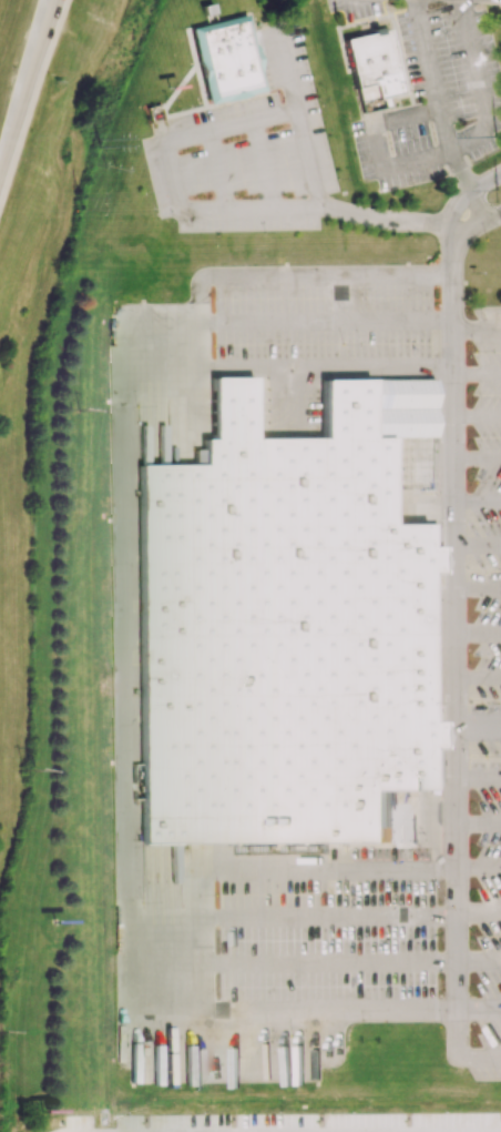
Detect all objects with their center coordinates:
building: (225, 58)
road: (286, 64)
building: (370, 64)
road: (480, 88)
road: (28, 90)
parking lot: (432, 91)
road: (441, 115)
power tower: (500, 135)
power tower: (99, 139)
road: (378, 144)
parking lot: (248, 151)
road: (264, 161)
road: (219, 169)
power tower: (111, 170)
road: (171, 193)
road: (464, 195)
power tower: (76, 203)
road: (479, 225)
road: (328, 322)
road: (202, 324)
road: (478, 329)
road: (142, 342)
road: (477, 373)
building: (400, 408)
power tower: (73, 414)
road: (478, 415)
road: (478, 457)
road: (478, 502)
road: (478, 544)
road: (478, 585)
parking lot: (470, 608)
building: (278, 633)
road: (478, 633)
road: (456, 643)
road: (123, 649)
road: (478, 677)
road: (478, 725)
power tower: (31, 769)
road: (478, 778)
road: (478, 821)
road: (479, 863)
road: (329, 868)
road: (479, 912)
road: (330, 916)
road: (204, 927)
road: (479, 957)
road: (330, 961)
road: (150, 966)
road: (330, 1011)
road: (458, 1051)
road: (267, 1057)

